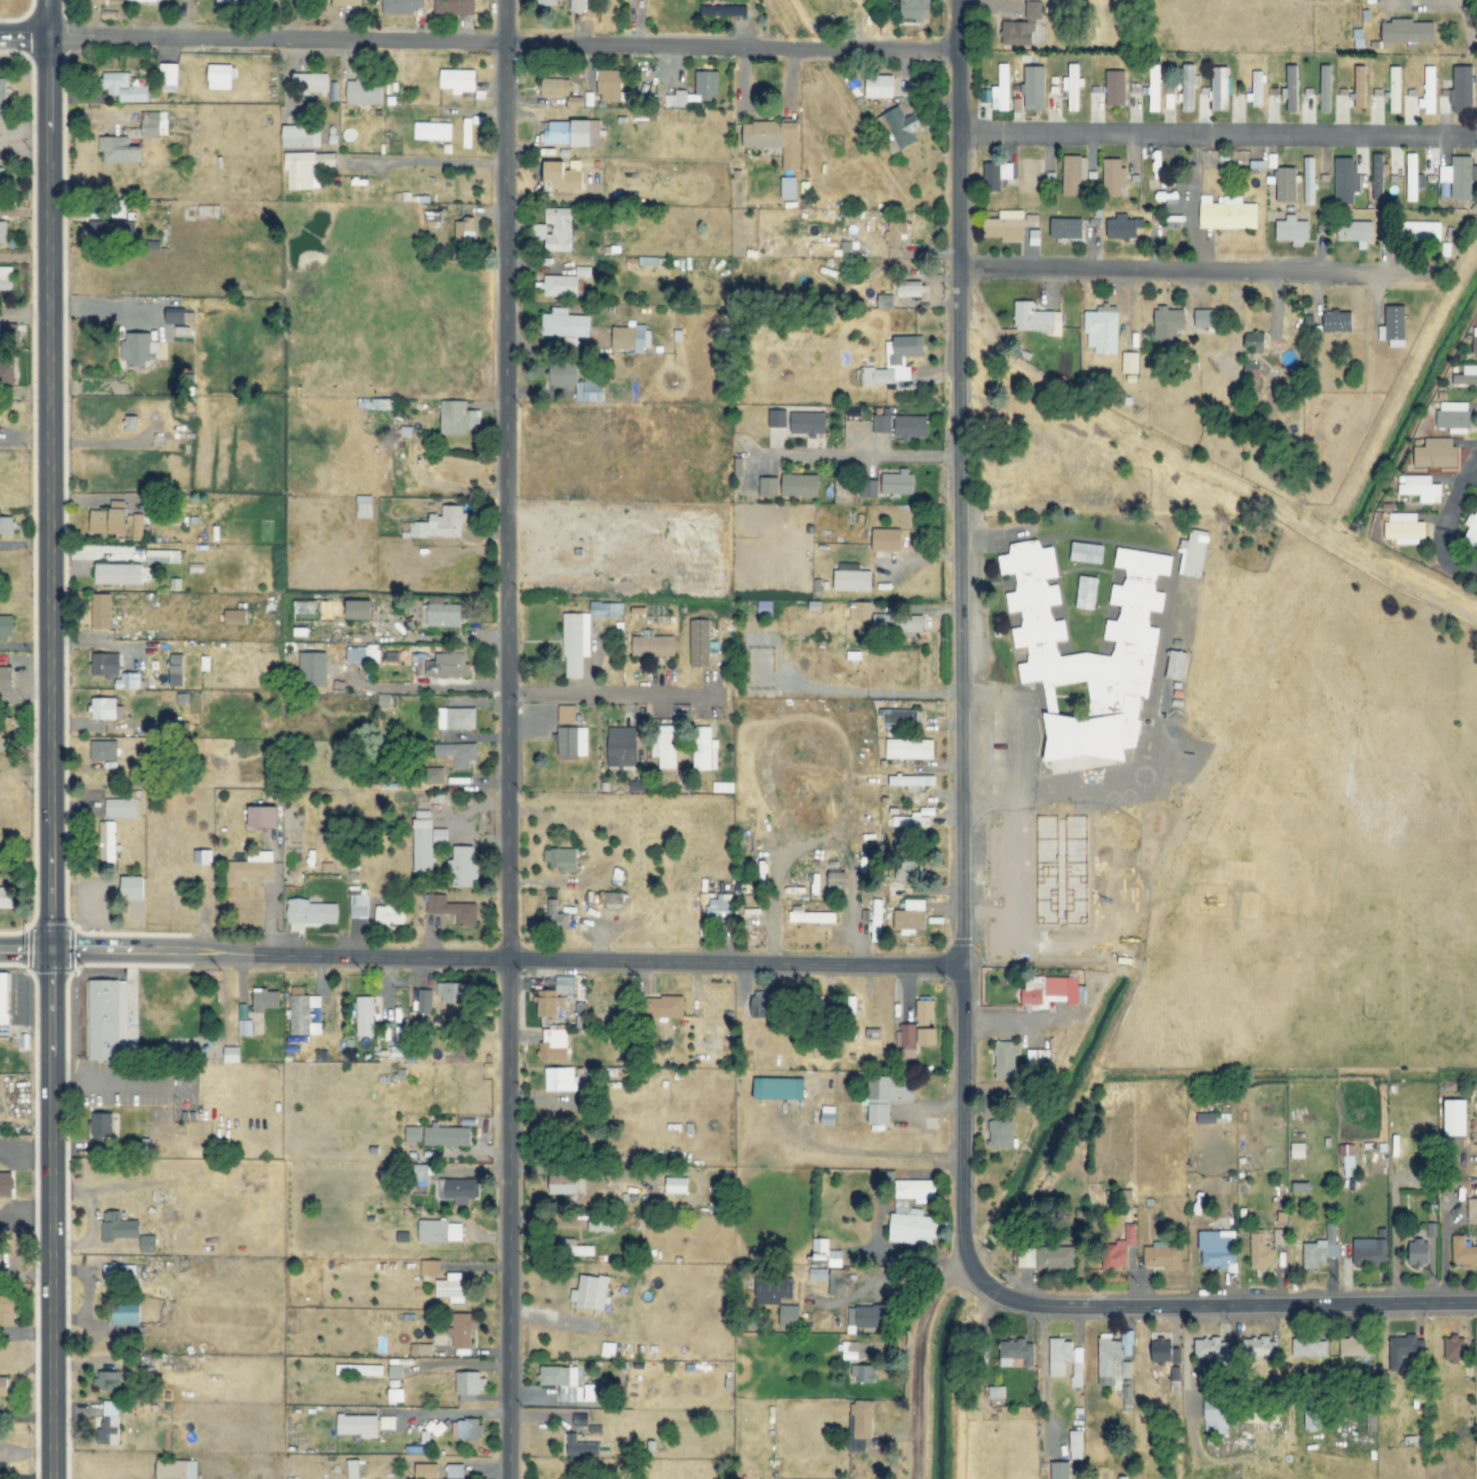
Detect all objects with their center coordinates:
building: (141, 1)
building: (232, 1)
road: (1469, 1)
building: (98, 2)
building: (346, 2)
building: (546, 2)
building: (577, 5)
building: (400, 6)
building: (453, 7)
building: (913, 9)
building: (722, 10)
building: (1032, 10)
building: (1406, 31)
building: (1017, 33)
road: (479, 42)
building: (168, 77)
building: (457, 80)
building: (310, 82)
building: (609, 86)
building: (879, 86)
building: (1153, 87)
building: (1187, 87)
building: (1359, 87)
building: (123, 88)
building: (554, 88)
building: (1114, 88)
building: (1219, 88)
building: (1000, 89)
building: (1290, 89)
building: (1324, 89)
building: (1461, 89)
building: (695, 90)
building: (1255, 90)
building: (1394, 90)
building: (1428, 91)
building: (363, 92)
building: (1170, 98)
building: (153, 122)
building: (901, 127)
building: (432, 131)
building: (568, 132)
road: (1212, 135)
building: (300, 136)
building: (774, 139)
building: (117, 150)
building: (306, 169)
building: (1073, 174)
building: (995, 175)
building: (1377, 176)
building: (2, 177)
building: (561, 177)
building: (1112, 177)
building: (1411, 177)
building: (1459, 177)
building: (1345, 179)
building: (1308, 181)
building: (1284, 184)
building: (787, 188)
building: (1227, 213)
building: (1005, 226)
building: (1122, 227)
building: (104, 228)
building: (1065, 228)
building: (1291, 229)
building: (554, 230)
building: (1355, 231)
building: (1420, 231)
building: (2, 232)
building: (895, 232)
building: (464, 233)
road: (1190, 274)
building: (5, 278)
building: (560, 286)
building: (911, 291)
building: (885, 301)
building: (175, 318)
building: (1205, 318)
building: (1035, 319)
building: (1335, 322)
building: (564, 324)
building: (1167, 325)
building: (1393, 326)
building: (1100, 329)
building: (9, 333)
building: (629, 338)
building: (1254, 340)
building: (1474, 341)
building: (137, 350)
building: (1128, 362)
building: (1466, 376)
building: (575, 383)
building: (375, 403)
building: (1454, 417)
building: (458, 418)
building: (776, 418)
building: (807, 423)
building: (880, 423)
building: (130, 424)
building: (910, 427)
building: (1436, 454)
building: (897, 482)
building: (800, 486)
building: (768, 487)
building: (1419, 488)
building: (868, 489)
building: (363, 507)
building: (107, 521)
road: (1442, 523)
building: (439, 524)
building: (6, 526)
building: (1471, 526)
building: (136, 527)
building: (1404, 529)
building: (885, 540)
building: (1086, 553)
building: (1193, 554)
building: (162, 557)
building: (117, 574)
building: (852, 580)
building: (1086, 593)
building: (764, 608)
building: (358, 610)
building: (605, 610)
building: (100, 611)
building: (313, 611)
building: (857, 611)
building: (442, 616)
building: (234, 617)
building: (897, 623)
building: (6, 626)
building: (574, 643)
building: (698, 643)
building: (652, 647)
building: (361, 654)
building: (1084, 654)
building: (105, 664)
building: (1175, 665)
building: (447, 666)
building: (312, 669)
building: (176, 670)
building: (6, 678)
building: (127, 681)
building: (105, 709)
building: (566, 714)
building: (901, 717)
building: (455, 718)
road: (49, 739)
road: (506, 739)
building: (572, 742)
building: (622, 745)
road: (961, 745)
building: (664, 746)
building: (909, 749)
building: (704, 750)
building: (103, 751)
building: (456, 754)
building: (433, 776)
building: (911, 781)
building: (120, 809)
building: (261, 817)
building: (106, 842)
building: (425, 844)
building: (202, 857)
building: (560, 859)
building: (462, 867)
building: (251, 869)
building: (908, 869)
building: (836, 880)
building: (132, 888)
building: (611, 897)
building: (4, 898)
building: (358, 907)
building: (718, 908)
building: (451, 910)
building: (310, 912)
building: (390, 913)
building: (554, 916)
building: (809, 916)
building: (909, 917)
building: (876, 921)
road: (480, 958)
building: (448, 992)
building: (553, 996)
building: (3, 997)
building: (265, 999)
building: (424, 1002)
building: (764, 1003)
building: (664, 1006)
building: (604, 1007)
building: (924, 1013)
building: (302, 1014)
building: (579, 1014)
building: (364, 1016)
building: (111, 1019)
building: (244, 1027)
building: (816, 1030)
building: (927, 1036)
building: (905, 1040)
building: (553, 1045)
building: (231, 1054)
building: (1036, 1058)
building: (1004, 1060)
building: (559, 1078)
building: (891, 1087)
building: (778, 1088)
building: (1003, 1092)
building: (878, 1114)
building: (826, 1116)
building: (1205, 1117)
building: (1455, 1117)
building: (101, 1131)
building: (411, 1134)
building: (1000, 1134)
building: (446, 1136)
building: (1297, 1150)
building: (1348, 1163)
building: (5, 1183)
building: (562, 1184)
building: (675, 1185)
building: (1300, 1187)
building: (456, 1188)
building: (1472, 1210)
building: (911, 1213)
building: (600, 1222)
building: (118, 1226)
building: (439, 1231)
building: (147, 1243)
building: (1117, 1250)
building: (1217, 1250)
building: (1368, 1251)
building: (1418, 1251)
building: (1463, 1251)
building: (825, 1252)
building: (1260, 1252)
building: (1162, 1256)
building: (1025, 1257)
building: (1054, 1257)
building: (430, 1267)
road: (977, 1272)
building: (118, 1273)
building: (816, 1274)
building: (836, 1284)
building: (450, 1288)
building: (772, 1290)
building: (589, 1292)
road: (1231, 1303)
building: (7, 1310)
building: (788, 1315)
building: (866, 1317)
building: (124, 1319)
building: (461, 1329)
building: (1352, 1346)
building: (1210, 1347)
building: (1259, 1347)
building: (1308, 1347)
building: (1454, 1348)
building: (420, 1349)
building: (1402, 1349)
building: (847, 1350)
building: (1163, 1350)
building: (1015, 1352)
building: (1112, 1357)
building: (1064, 1360)
building: (358, 1369)
building: (863, 1373)
building: (1174, 1373)
building: (107, 1380)
building: (562, 1381)
building: (468, 1386)
building: (3, 1391)
building: (1126, 1395)
building: (1215, 1412)
building: (1257, 1413)
building: (861, 1418)
building: (109, 1422)
building: (386, 1422)
building: (357, 1425)
building: (465, 1429)
building: (583, 1437)
building: (1075, 1445)
building: (175, 1469)
building: (352, 1469)
building: (1059, 1470)
building: (425, 1471)
building: (454, 1471)

